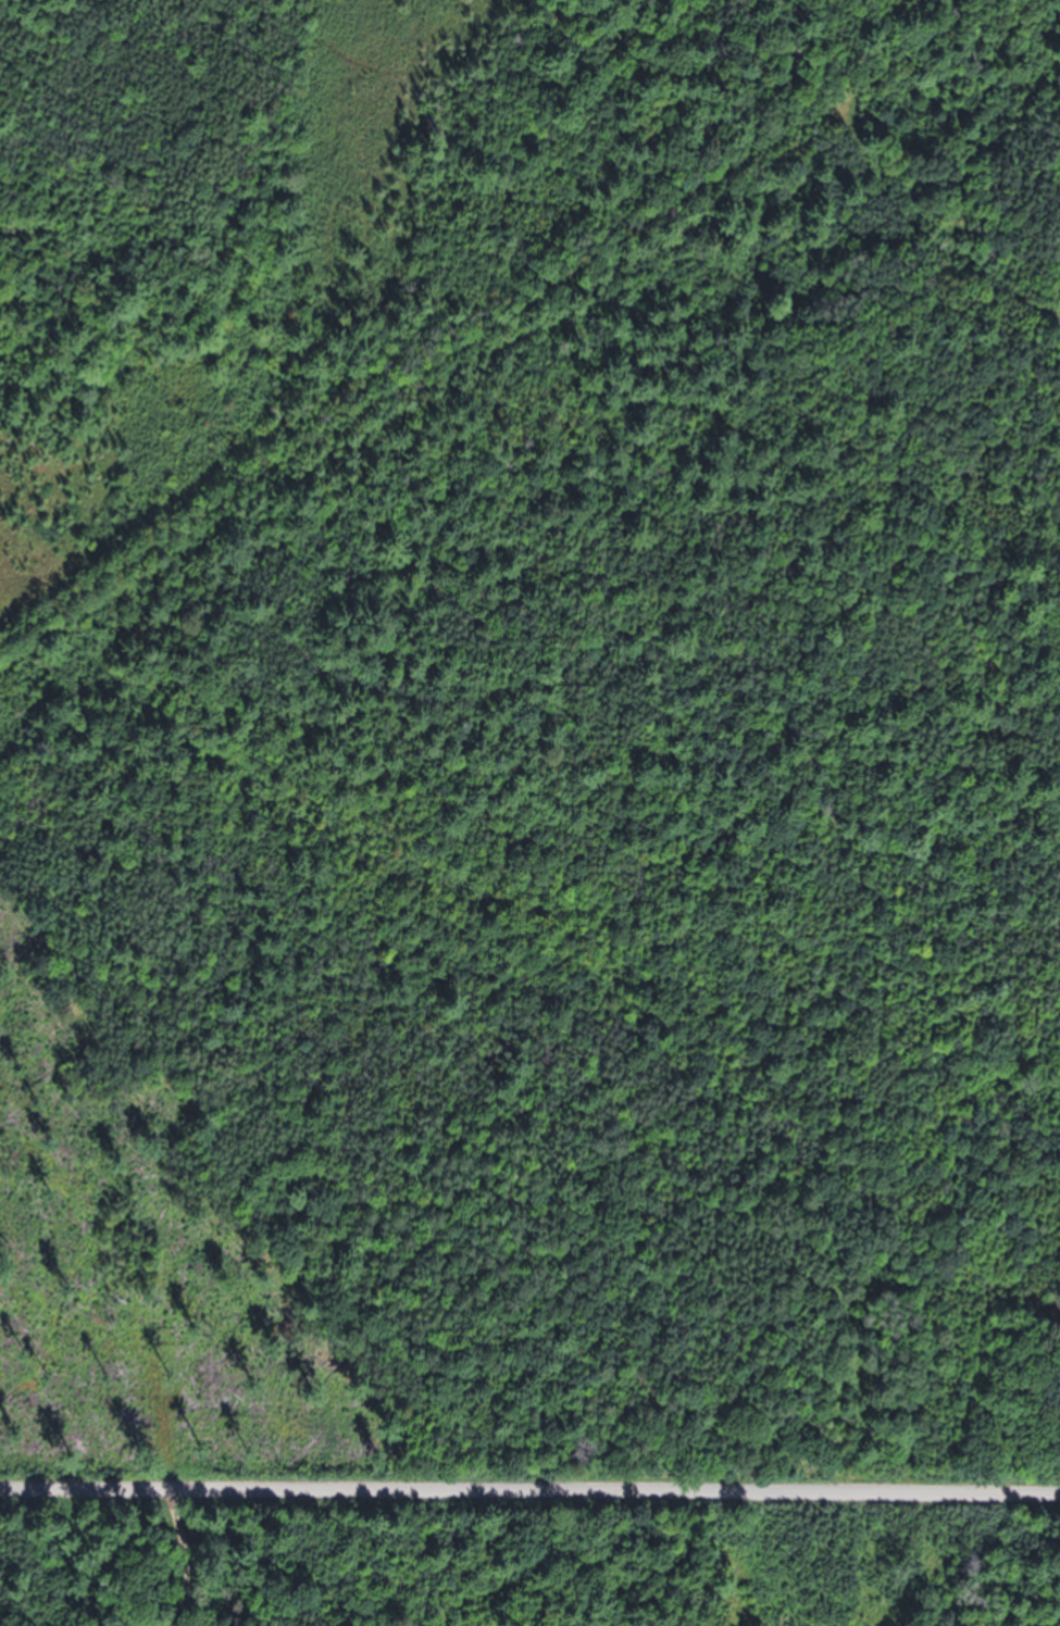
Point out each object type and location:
road: (497, 333)
road: (529, 1494)

